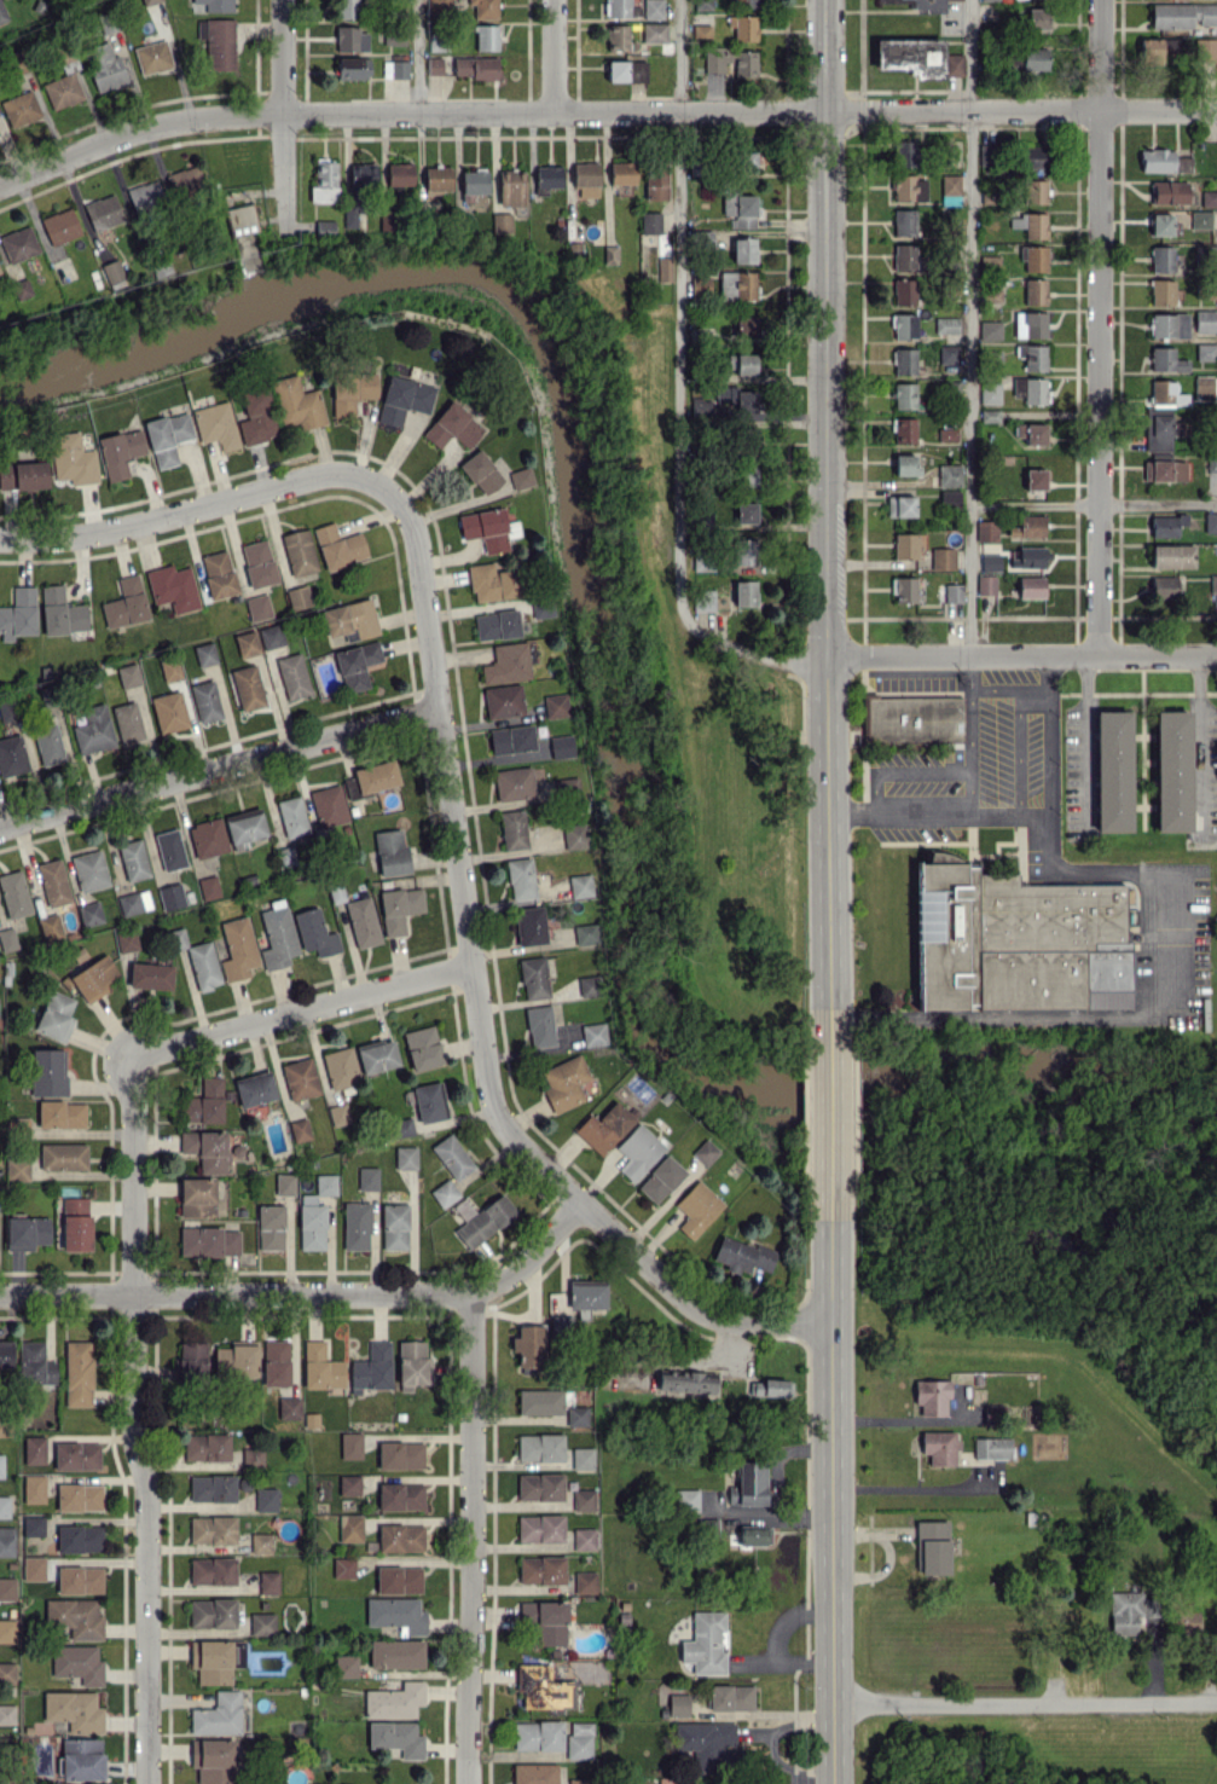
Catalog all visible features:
building: (984, 0)
building: (918, 5)
building: (620, 8)
building: (653, 8)
building: (1182, 15)
building: (1037, 18)
building: (743, 27)
building: (654, 31)
building: (701, 33)
building: (619, 37)
building: (1207, 48)
building: (1159, 50)
road: (417, 54)
road: (679, 54)
road: (554, 56)
building: (917, 57)
building: (1033, 58)
building: (730, 60)
building: (626, 70)
road: (602, 110)
road: (283, 116)
building: (903, 152)
building: (986, 154)
building: (1035, 157)
building: (1155, 160)
building: (744, 162)
building: (1182, 163)
building: (621, 172)
building: (546, 178)
building: (584, 180)
building: (654, 180)
building: (949, 184)
building: (510, 187)
building: (908, 187)
building: (1033, 191)
building: (1169, 192)
building: (1209, 198)
building: (738, 209)
building: (1200, 219)
building: (649, 222)
building: (903, 222)
building: (1160, 224)
building: (1030, 225)
building: (743, 250)
building: (609, 254)
building: (903, 256)
building: (1035, 257)
building: (1161, 259)
building: (662, 270)
building: (700, 284)
building: (736, 285)
building: (904, 291)
building: (1035, 291)
building: (1161, 291)
building: (1204, 320)
building: (945, 324)
building: (1028, 324)
road: (1099, 325)
building: (1169, 325)
building: (904, 326)
road: (968, 326)
building: (987, 330)
building: (1205, 352)
building: (947, 353)
building: (1032, 357)
building: (904, 360)
building: (1166, 360)
building: (740, 363)
building: (1204, 387)
building: (1030, 389)
building: (989, 393)
building: (1165, 393)
building: (904, 395)
building: (740, 401)
building: (699, 409)
building: (989, 415)
building: (904, 430)
building: (1159, 431)
building: (1031, 433)
building: (946, 434)
road: (677, 442)
building: (905, 464)
building: (1165, 470)
building: (747, 474)
building: (949, 474)
building: (1211, 474)
building: (520, 477)
building: (1035, 479)
road: (828, 498)
building: (949, 498)
road: (1093, 502)
building: (899, 505)
road: (187, 508)
building: (744, 511)
building: (1210, 521)
building: (1166, 525)
building: (1027, 526)
building: (986, 531)
building: (904, 545)
building: (744, 551)
building: (1172, 556)
building: (943, 557)
building: (1028, 557)
building: (989, 561)
building: (985, 584)
building: (1031, 586)
building: (1163, 586)
building: (903, 589)
building: (744, 592)
building: (952, 592)
building: (702, 600)
building: (543, 607)
road: (1021, 653)
building: (505, 662)
river: (605, 689)
road: (990, 691)
road: (1030, 691)
building: (503, 700)
building: (555, 705)
building: (912, 719)
road: (1044, 731)
building: (510, 738)
road: (1085, 738)
road: (1198, 745)
building: (561, 746)
building: (1112, 770)
building: (1171, 770)
road: (218, 771)
building: (512, 783)
building: (566, 786)
road: (897, 810)
road: (991, 810)
road: (1031, 810)
building: (511, 829)
building: (574, 835)
road: (1047, 836)
road: (452, 852)
building: (520, 877)
building: (579, 885)
building: (531, 925)
building: (585, 933)
building: (1015, 940)
building: (533, 978)
building: (590, 985)
road: (299, 1010)
road: (1147, 1015)
building: (539, 1026)
building: (592, 1033)
building: (563, 1083)
road: (829, 1102)
building: (604, 1126)
building: (637, 1151)
building: (705, 1151)
building: (660, 1178)
building: (696, 1207)
building: (741, 1256)
building: (586, 1293)
road: (308, 1298)
road: (689, 1303)
building: (561, 1325)
building: (528, 1345)
building: (685, 1383)
building: (766, 1388)
building: (931, 1397)
building: (539, 1401)
building: (992, 1413)
building: (576, 1415)
road: (143, 1419)
building: (539, 1447)
building: (939, 1447)
building: (991, 1447)
building: (581, 1458)
building: (749, 1483)
road: (911, 1485)
building: (539, 1487)
road: (831, 1496)
building: (583, 1499)
building: (686, 1500)
building: (539, 1528)
building: (754, 1535)
building: (584, 1539)
road: (471, 1541)
building: (931, 1552)
building: (540, 1569)
building: (585, 1582)
building: (1128, 1610)
building: (545, 1620)
building: (1189, 1621)
building: (703, 1643)
building: (543, 1687)
building: (730, 1697)
road: (1025, 1702)
building: (678, 1704)
building: (538, 1734)
building: (579, 1740)
building: (706, 1743)
building: (534, 1773)
building: (580, 1780)

